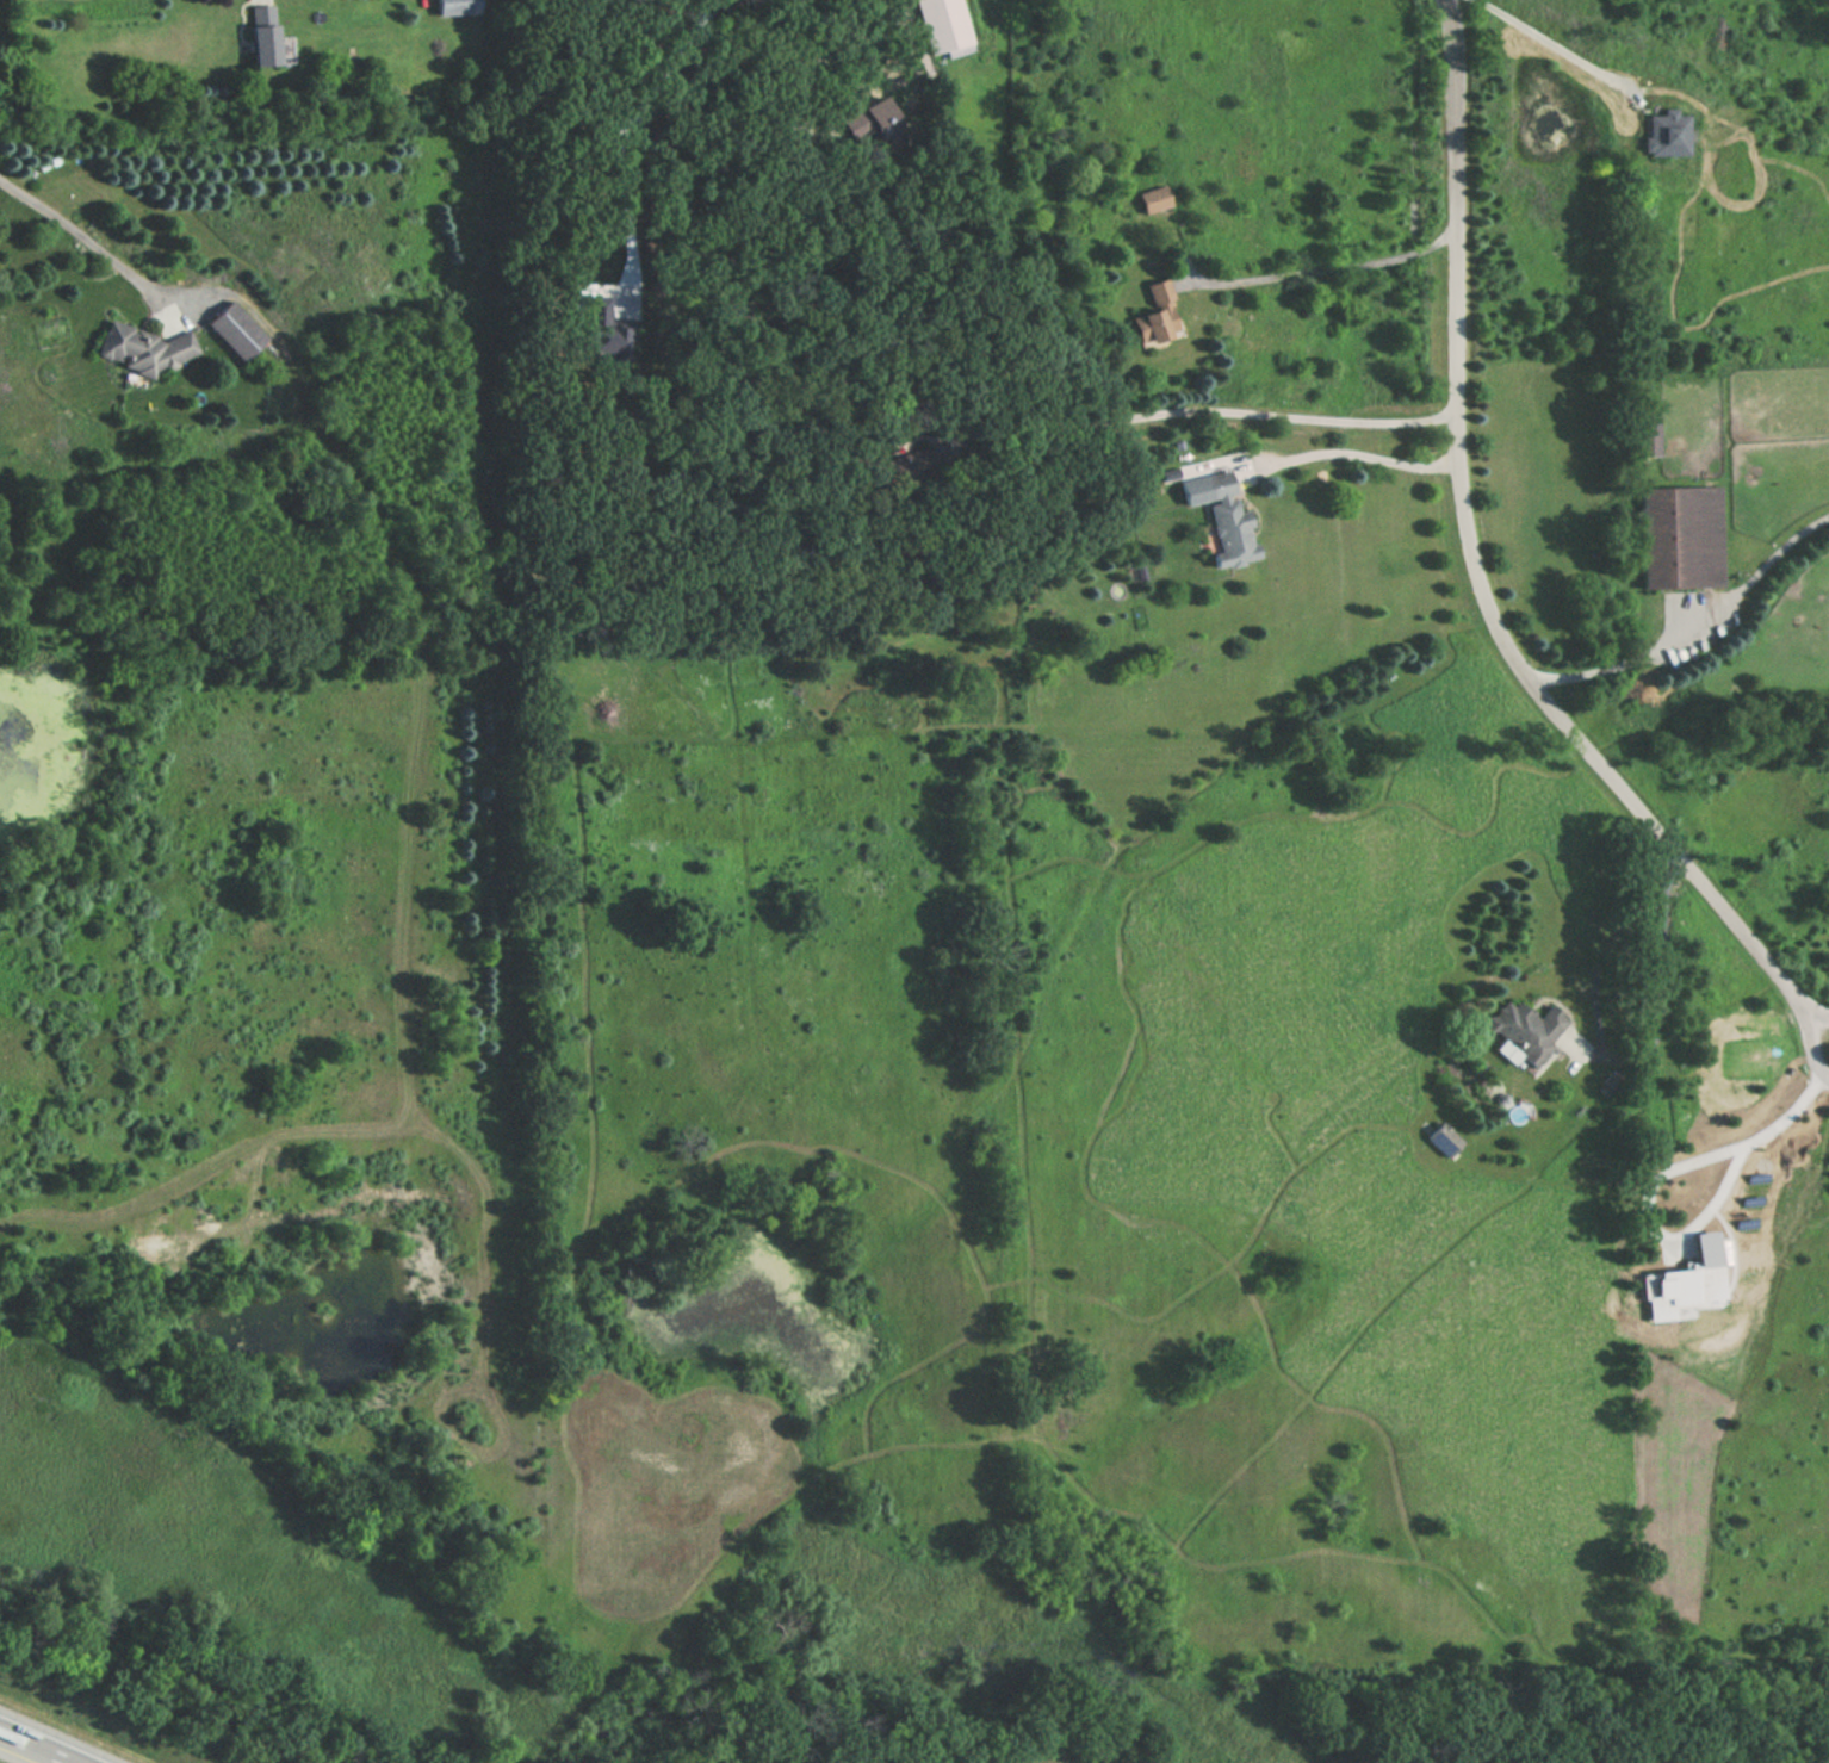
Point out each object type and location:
building: (455, 7)
building: (943, 26)
building: (262, 33)
road: (1558, 45)
road: (825, 49)
road: (631, 128)
building: (1664, 134)
building: (1154, 201)
road: (82, 236)
road: (1329, 268)
building: (1154, 315)
building: (235, 330)
building: (143, 347)
road: (1211, 412)
building: (1649, 439)
road: (1366, 457)
building: (1229, 519)
building: (1682, 534)
road: (1487, 571)
road: (1703, 638)
road: (1819, 1013)
building: (1527, 1030)
building: (1477, 1036)
road: (1636, 1057)
road: (1792, 1109)
building: (1445, 1132)
road: (1656, 1218)
road: (43, 1743)

